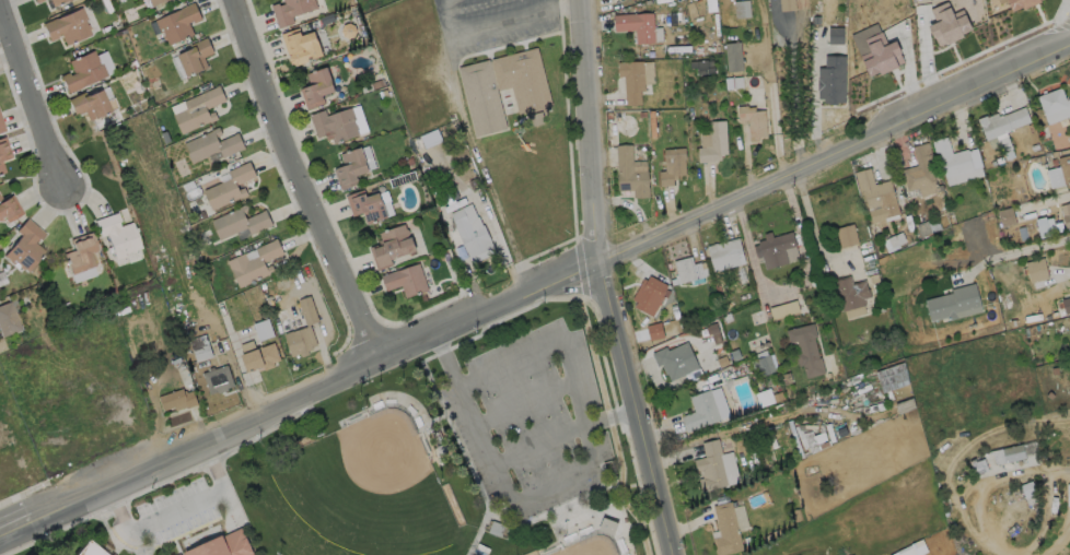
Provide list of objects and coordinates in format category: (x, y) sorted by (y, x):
building: (36, 1)
building: (55, 1)
building: (154, 2)
building: (1019, 3)
building: (291, 10)
building: (945, 16)
building: (177, 23)
building: (66, 26)
road: (496, 26)
building: (636, 26)
building: (874, 40)
building: (300, 47)
building: (195, 57)
building: (732, 57)
building: (82, 71)
building: (831, 80)
building: (630, 81)
building: (316, 87)
road: (32, 92)
building: (530, 93)
building: (90, 104)
building: (1054, 104)
road: (774, 109)
building: (199, 110)
building: (752, 121)
building: (1001, 121)
building: (334, 125)
building: (2, 126)
building: (712, 142)
building: (212, 145)
building: (3, 147)
building: (954, 162)
building: (1, 166)
building: (671, 166)
building: (1063, 167)
building: (350, 168)
road: (480, 168)
building: (920, 170)
building: (629, 173)
road: (300, 182)
building: (229, 187)
building: (876, 192)
building: (9, 206)
building: (365, 206)
building: (1066, 213)
building: (917, 217)
building: (1005, 217)
building: (239, 221)
building: (469, 231)
building: (116, 234)
building: (847, 235)
building: (25, 245)
building: (391, 247)
building: (772, 248)
road: (1019, 250)
building: (79, 252)
building: (724, 253)
building: (254, 262)
building: (684, 269)
building: (1036, 272)
building: (1066, 274)
building: (405, 281)
road: (603, 281)
building: (652, 291)
road: (534, 293)
building: (850, 293)
building: (953, 303)
building: (1066, 304)
building: (783, 308)
building: (1025, 308)
building: (7, 319)
building: (1069, 319)
building: (302, 329)
building: (1, 344)
road: (439, 344)
building: (200, 347)
building: (805, 347)
building: (259, 356)
building: (675, 359)
building: (887, 367)
building: (218, 378)
building: (900, 395)
building: (177, 399)
road: (525, 402)
road: (581, 406)
building: (705, 409)
road: (623, 415)
parking lot: (528, 417)
building: (1013, 442)
road: (462, 450)
building: (1013, 452)
park: (417, 461)
road: (493, 464)
building: (714, 465)
road: (985, 484)
park: (364, 485)
building: (1028, 491)
road: (588, 497)
road: (176, 512)
parking lot: (173, 516)
building: (607, 526)
building: (725, 529)
road: (1057, 538)
building: (229, 546)
park: (594, 547)
building: (88, 550)

